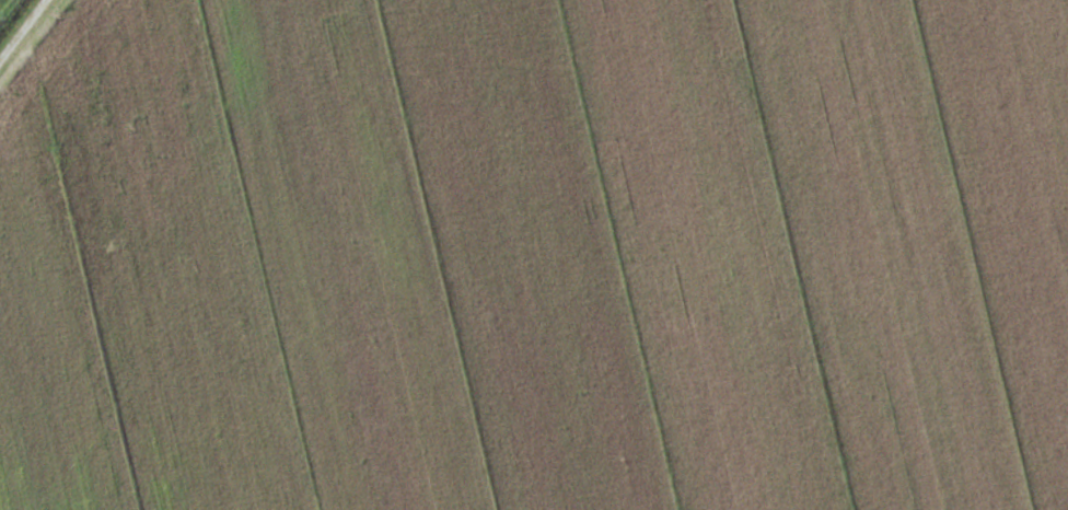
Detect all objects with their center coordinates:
crop: (0, 0)
crop: (535, 255)

